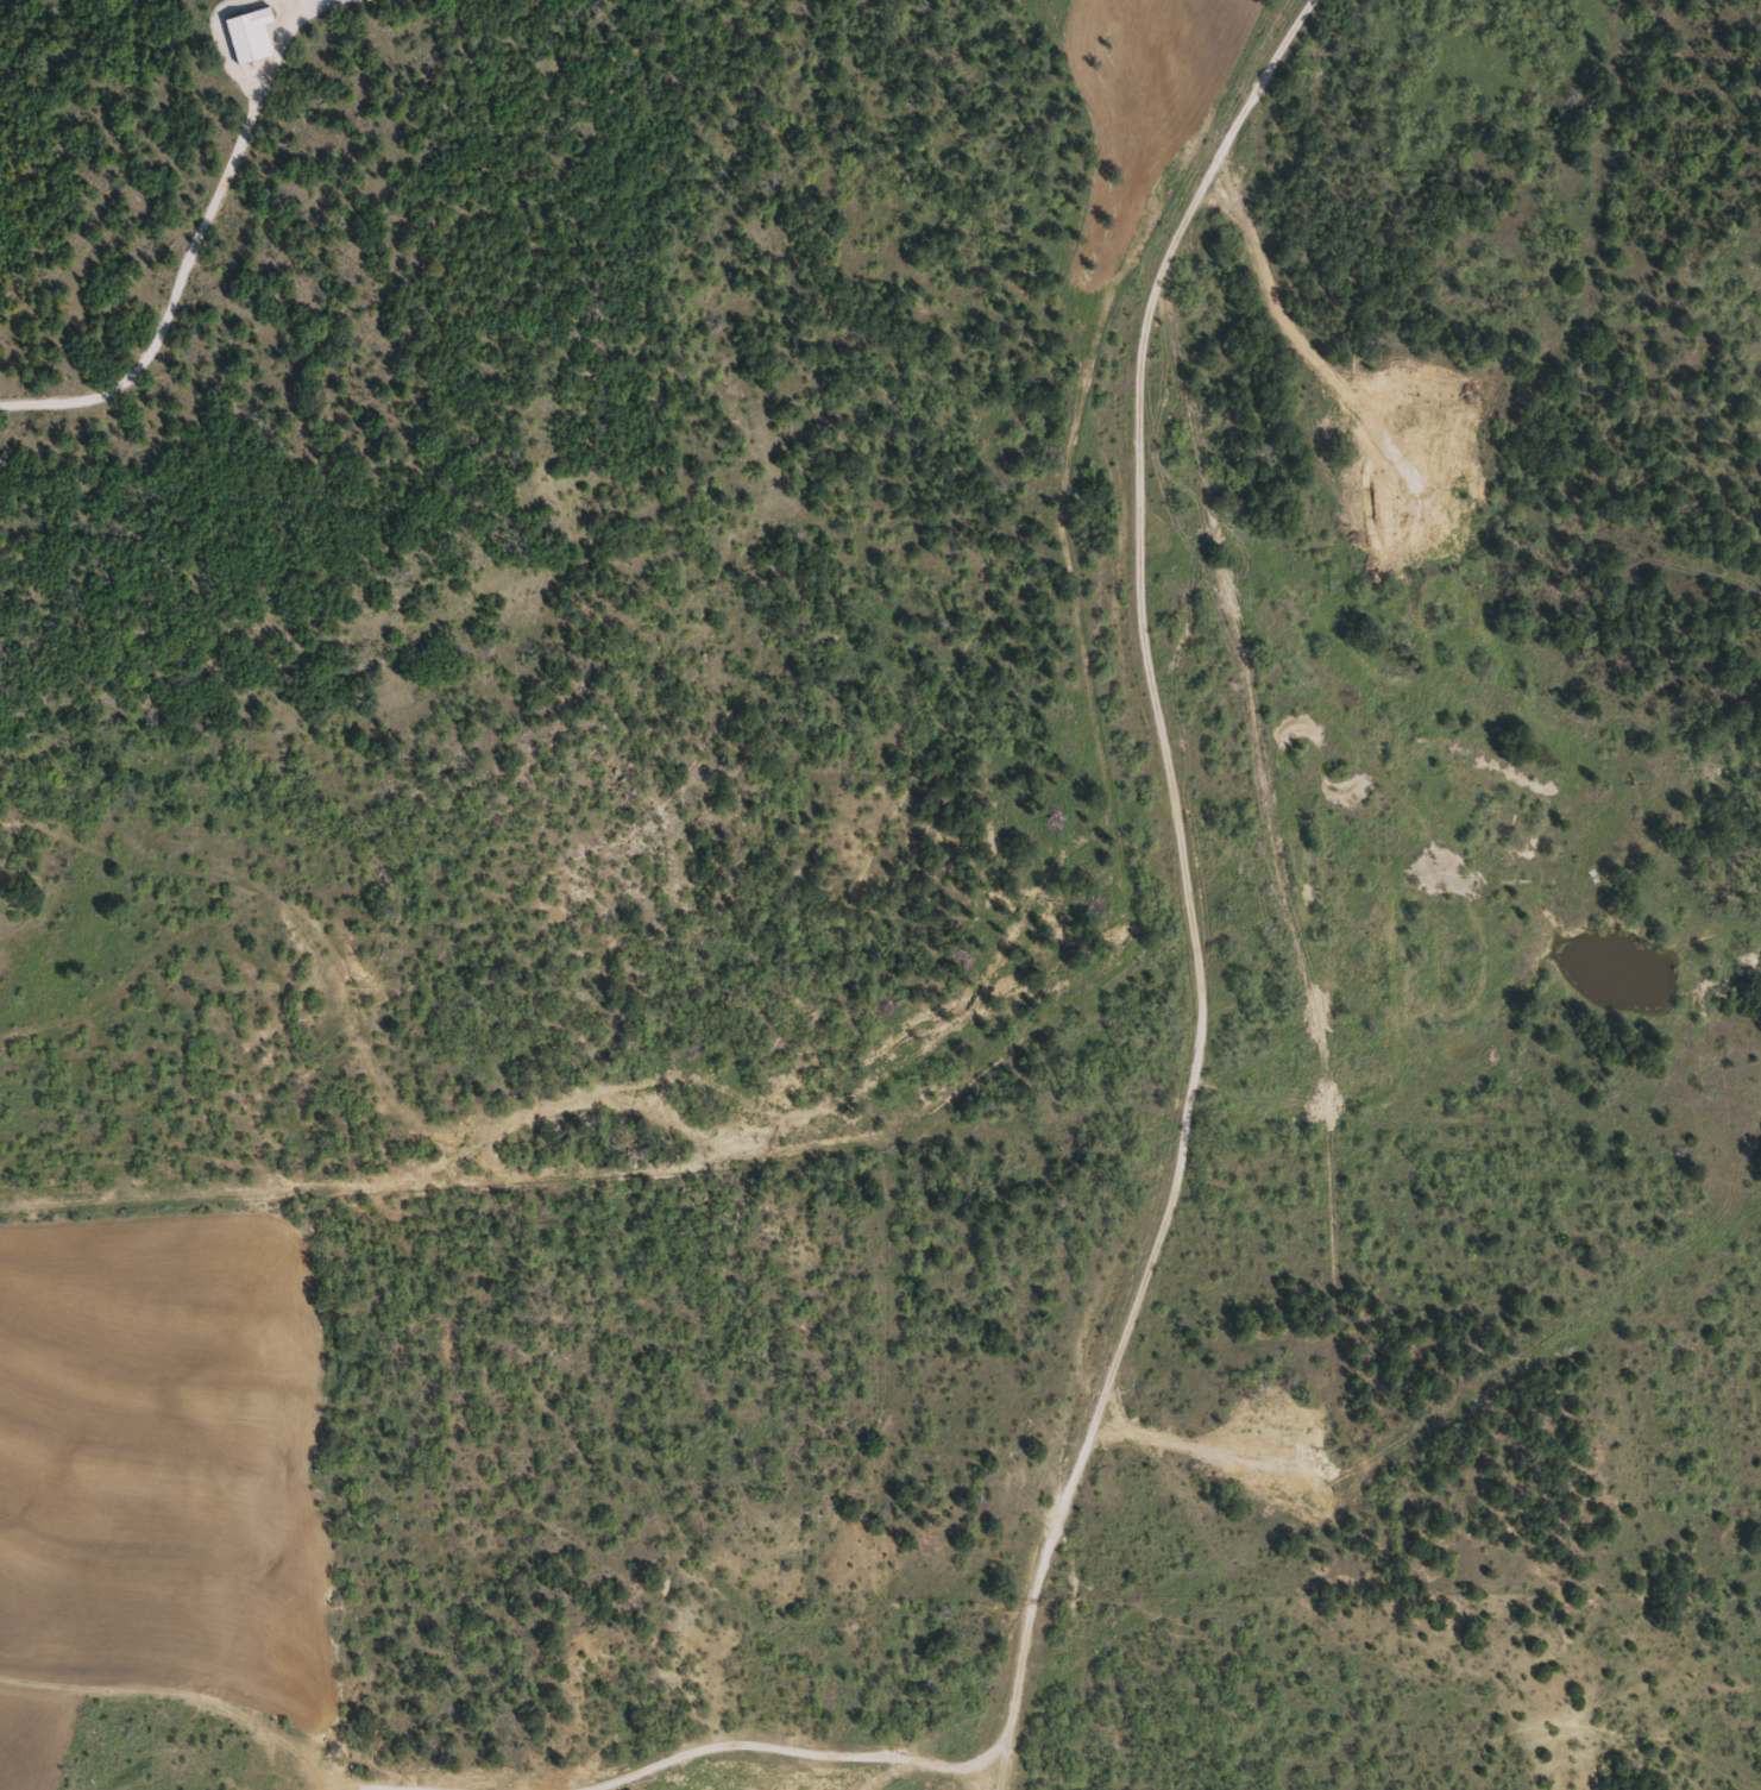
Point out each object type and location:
building: (246, 34)

